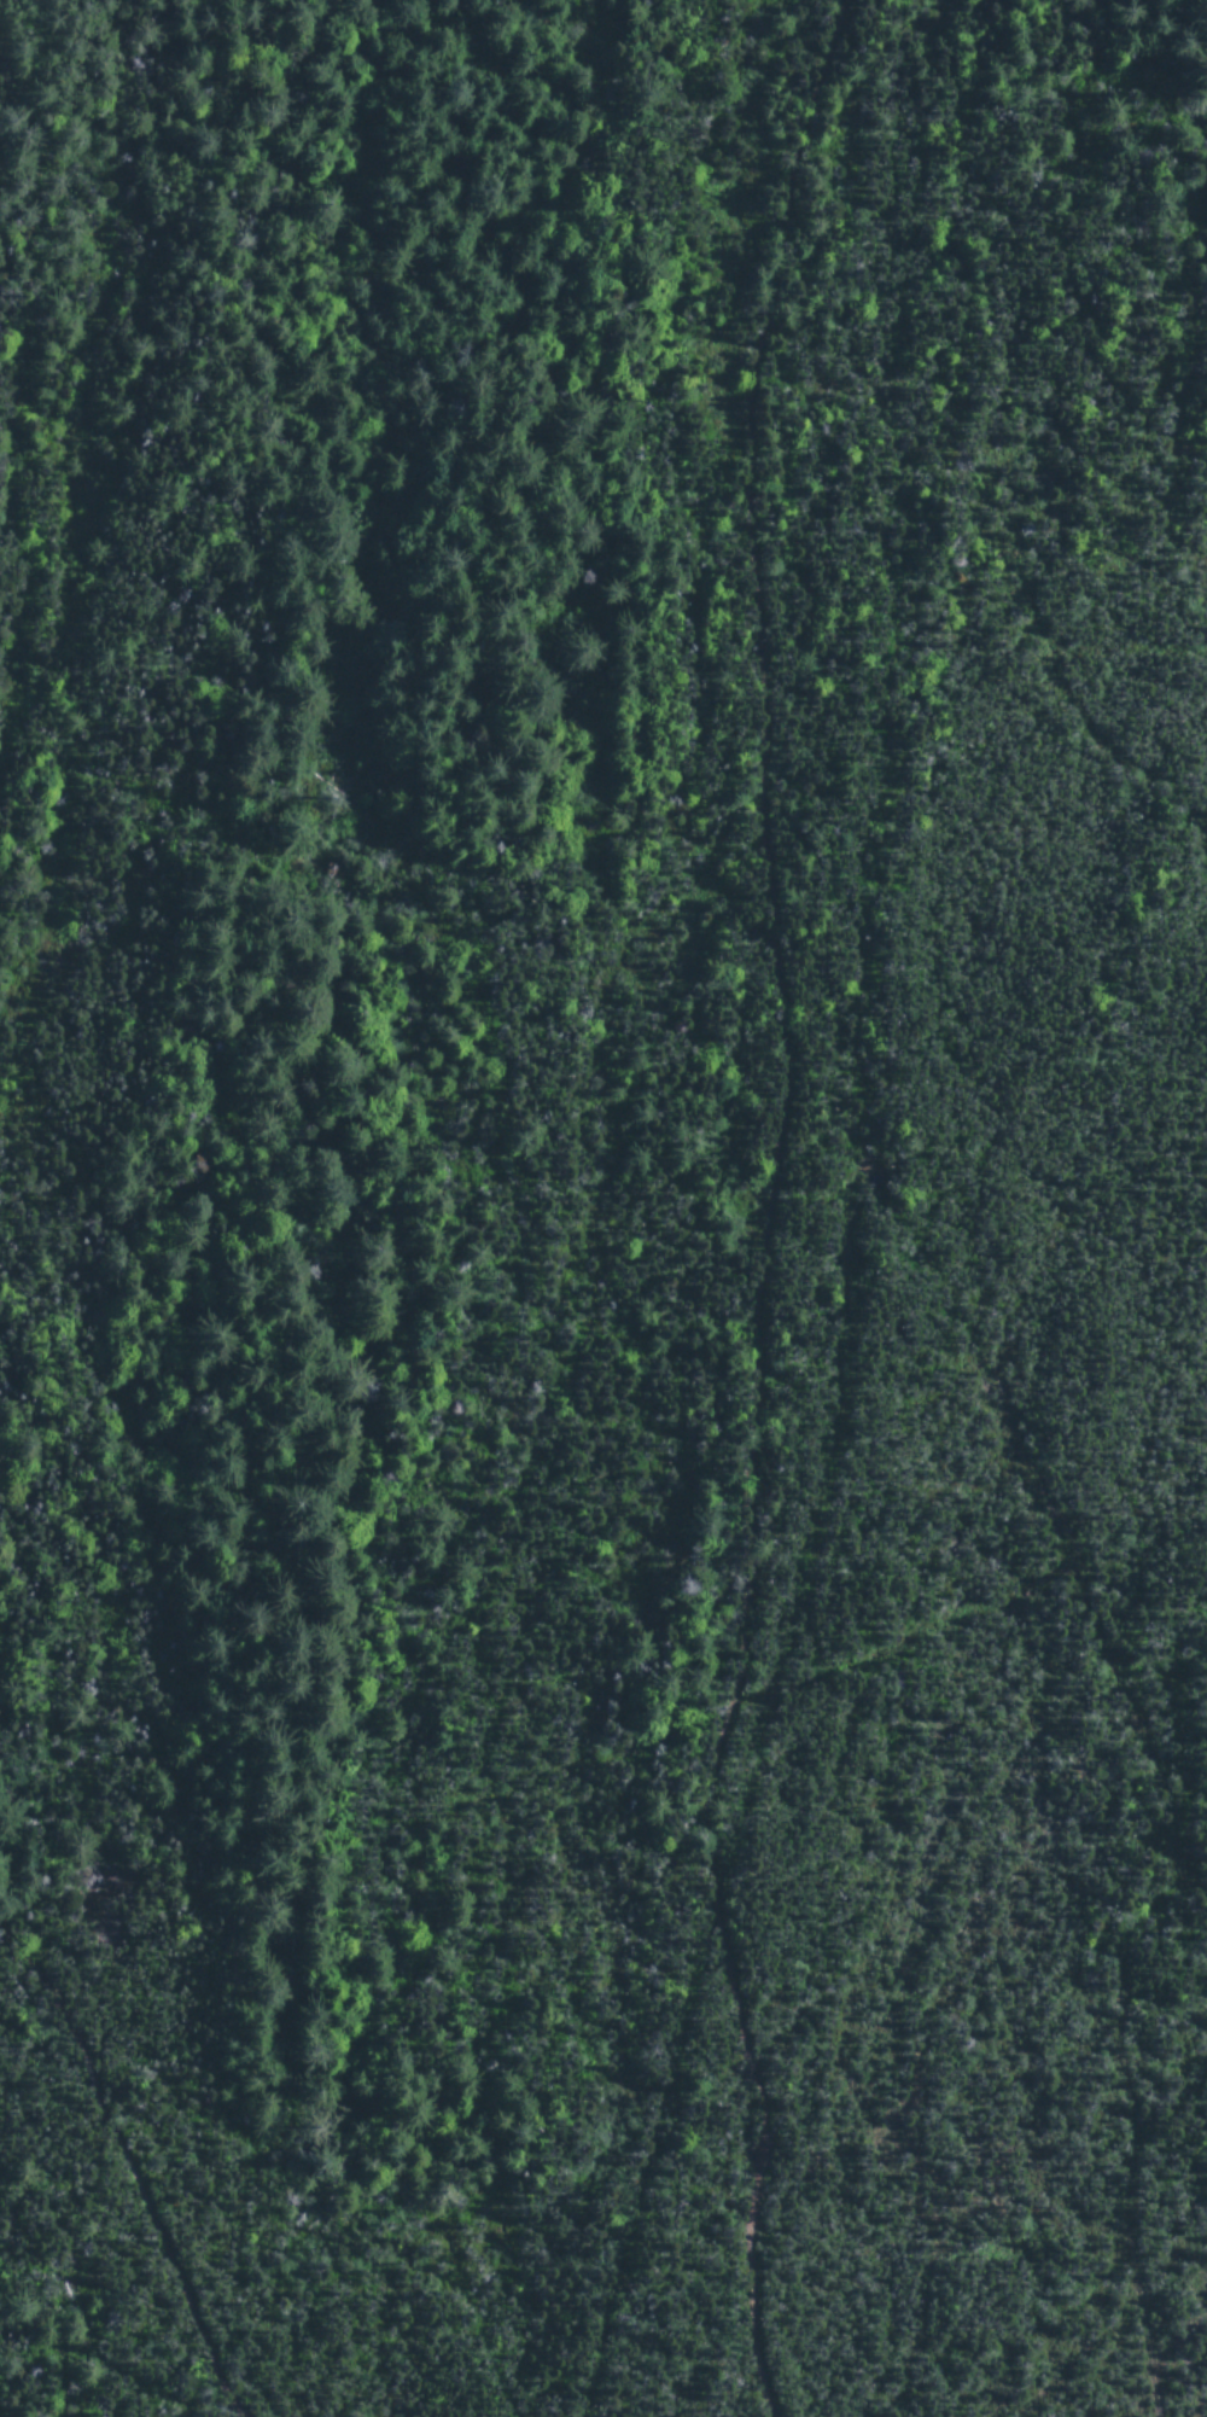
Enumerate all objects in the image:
road: (770, 1210)
road: (129, 2176)

